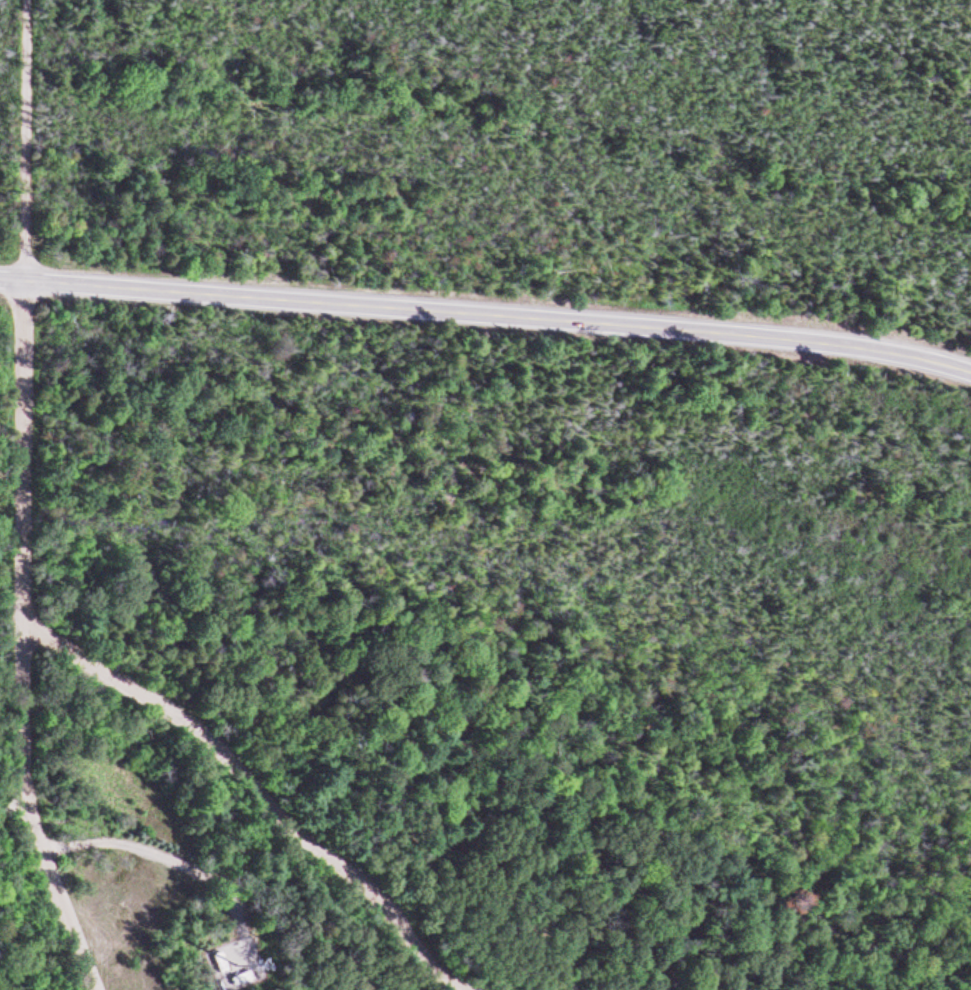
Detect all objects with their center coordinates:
road: (21, 139)
road: (10, 278)
road: (497, 315)
road: (21, 640)
road: (257, 789)
road: (11, 810)
road: (161, 855)

